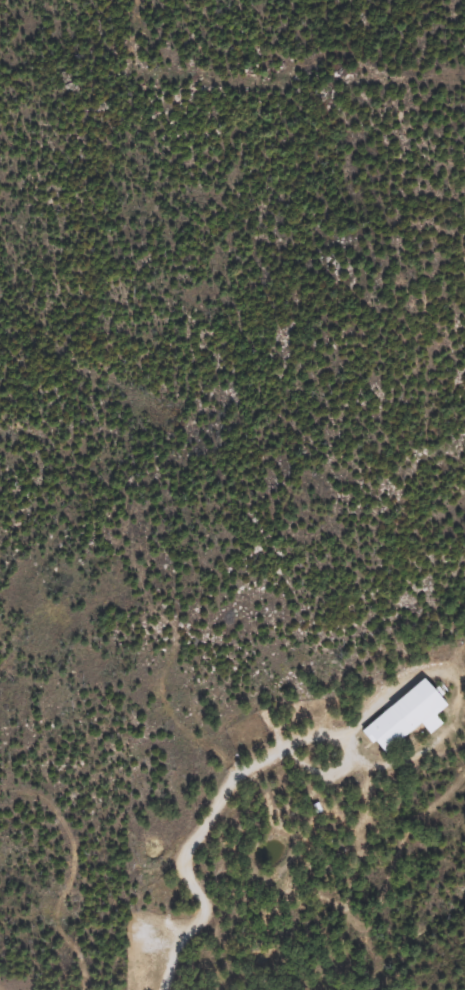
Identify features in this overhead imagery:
building: (407, 716)

